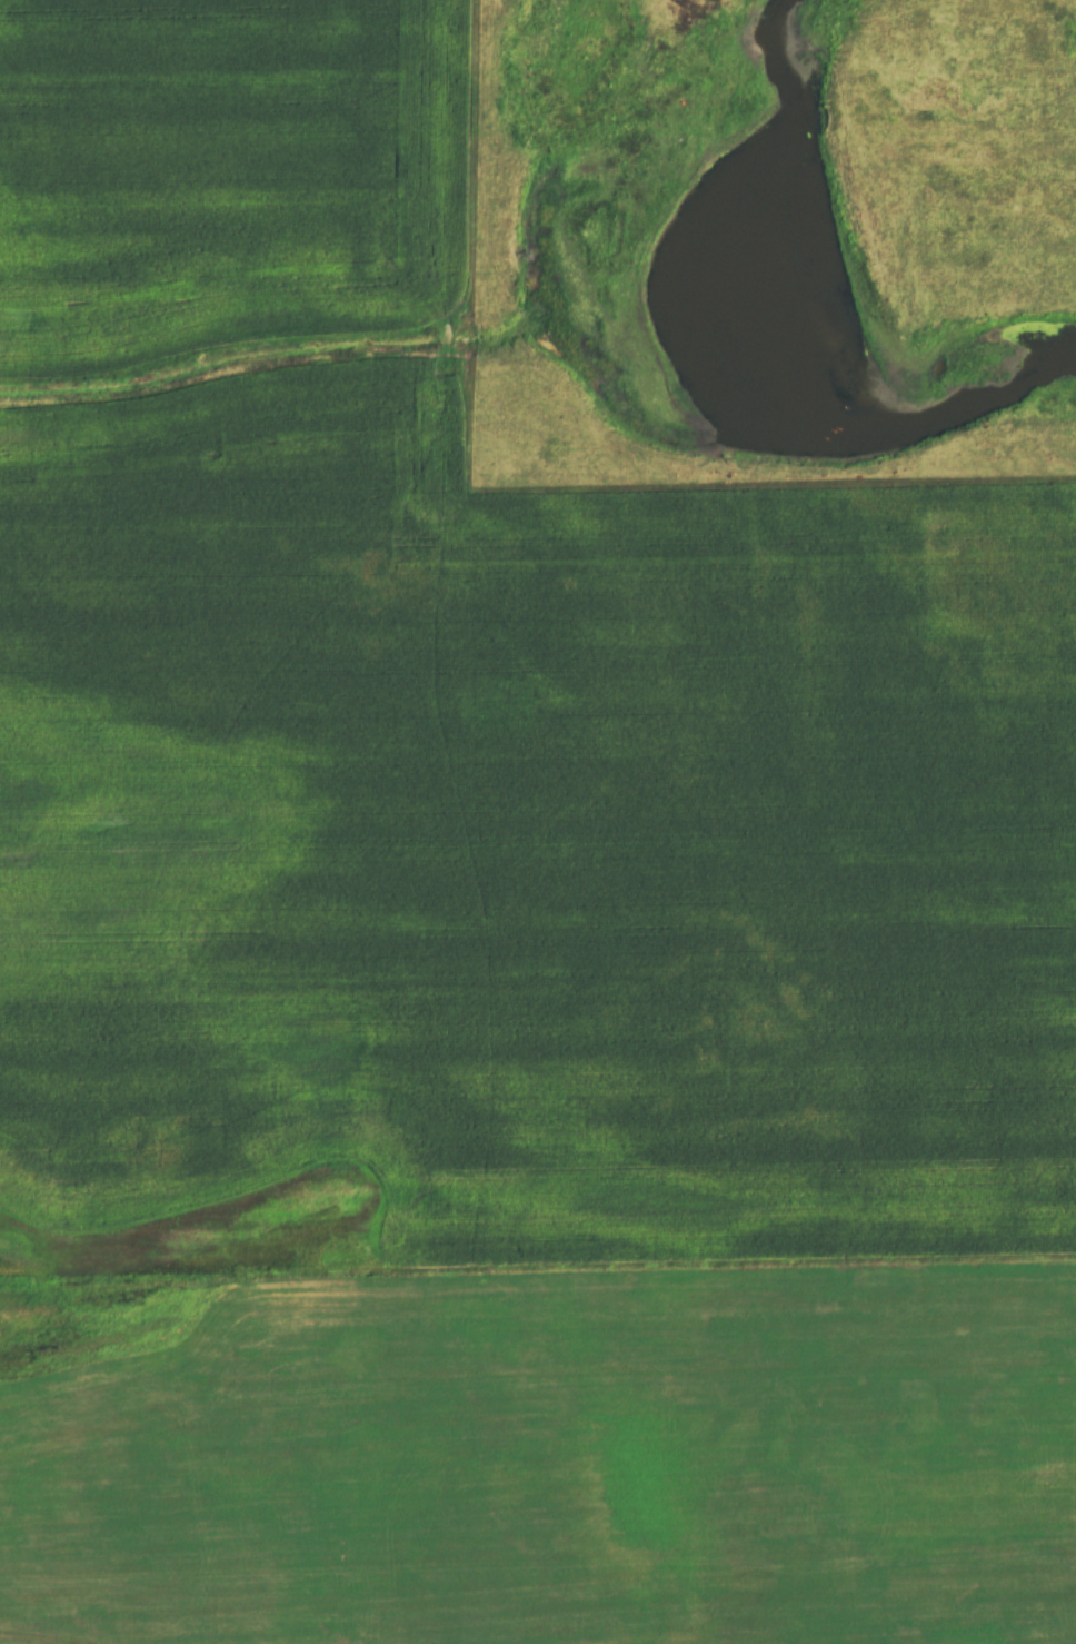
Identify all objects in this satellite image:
river: (811, 335)

